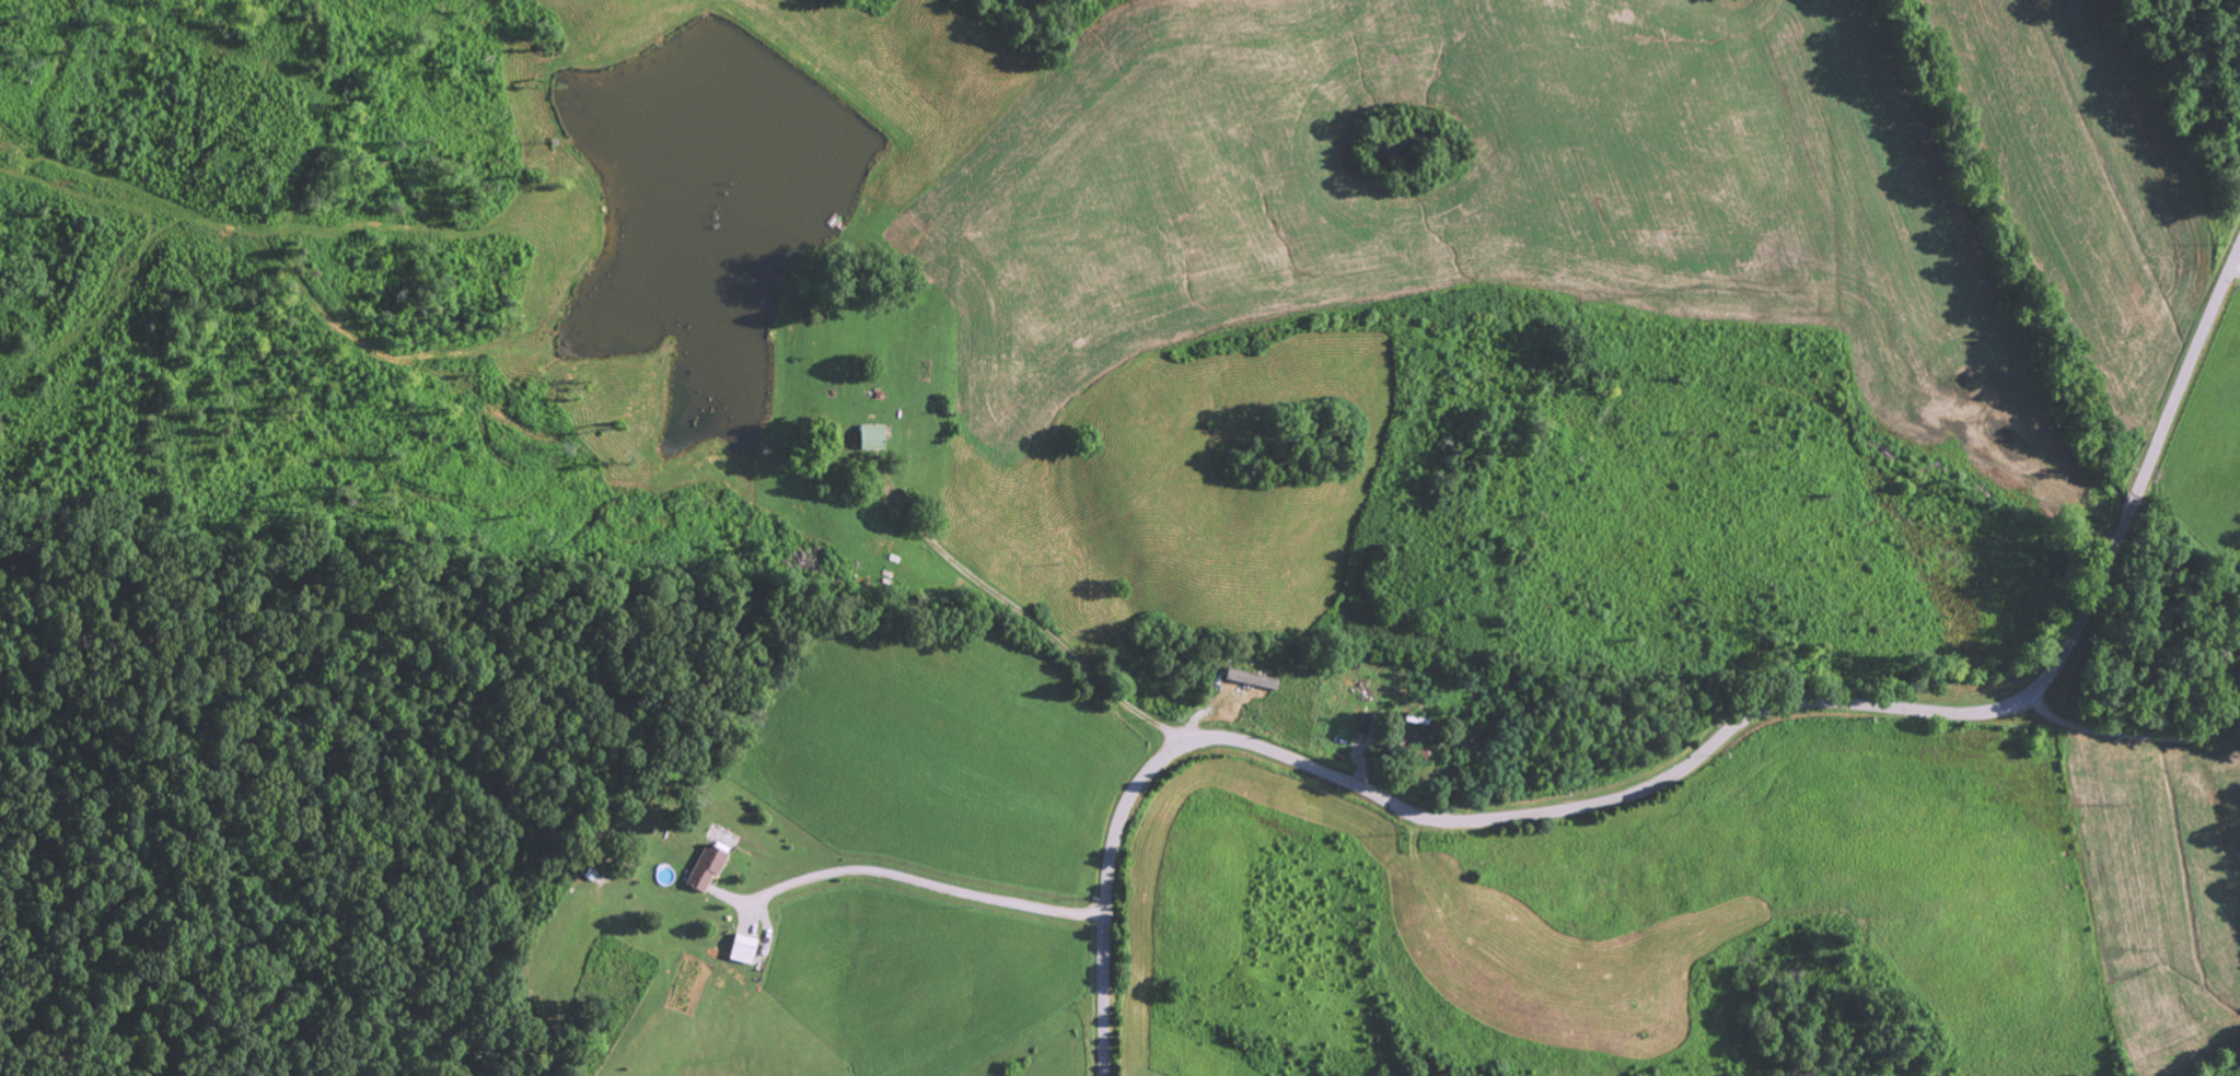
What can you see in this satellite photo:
building: (1250, 677)
road: (2125, 726)
road: (1676, 771)
building: (705, 866)
road: (912, 878)

